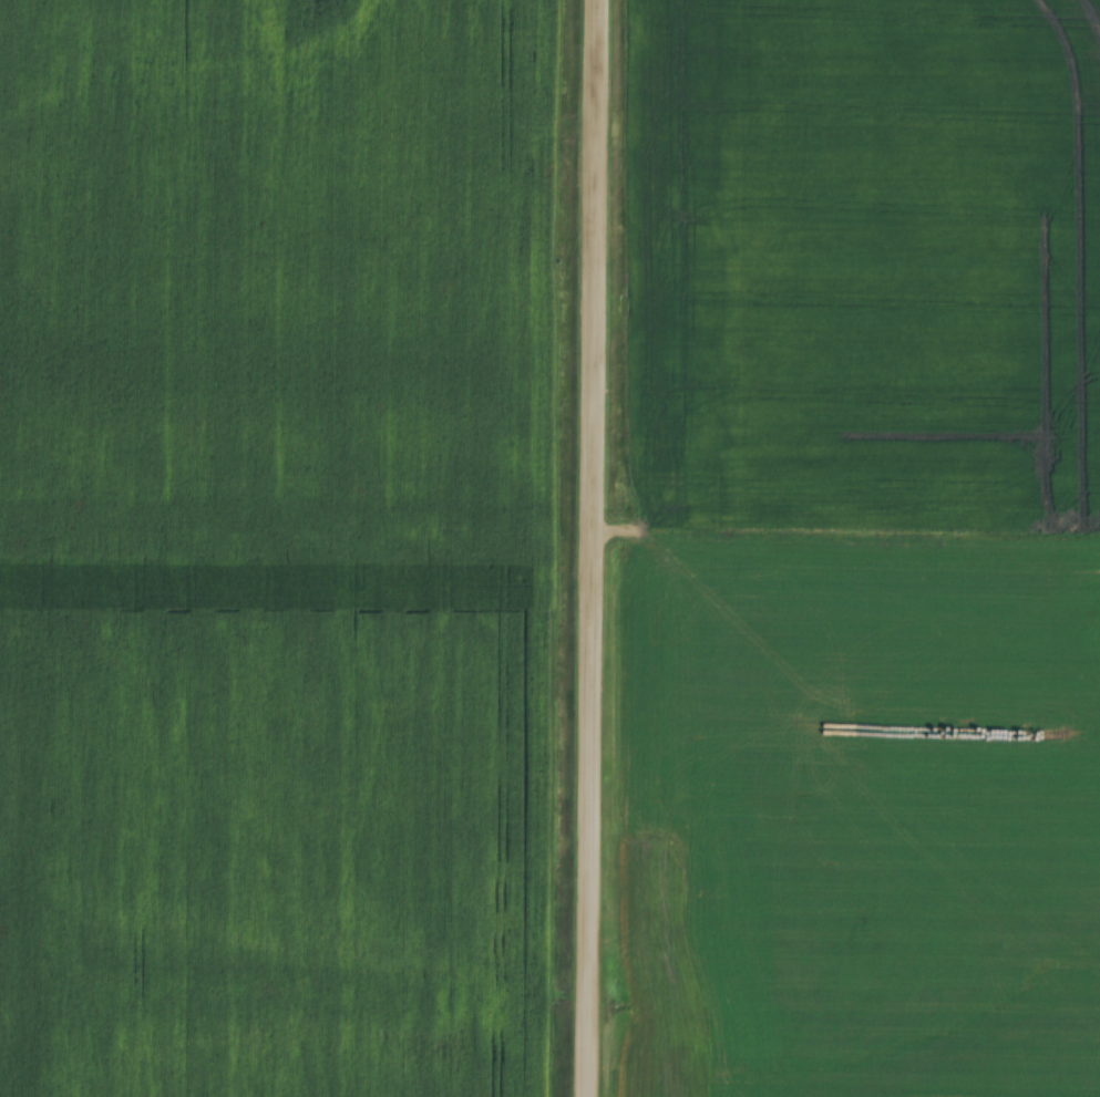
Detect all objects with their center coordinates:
road: (597, 548)

